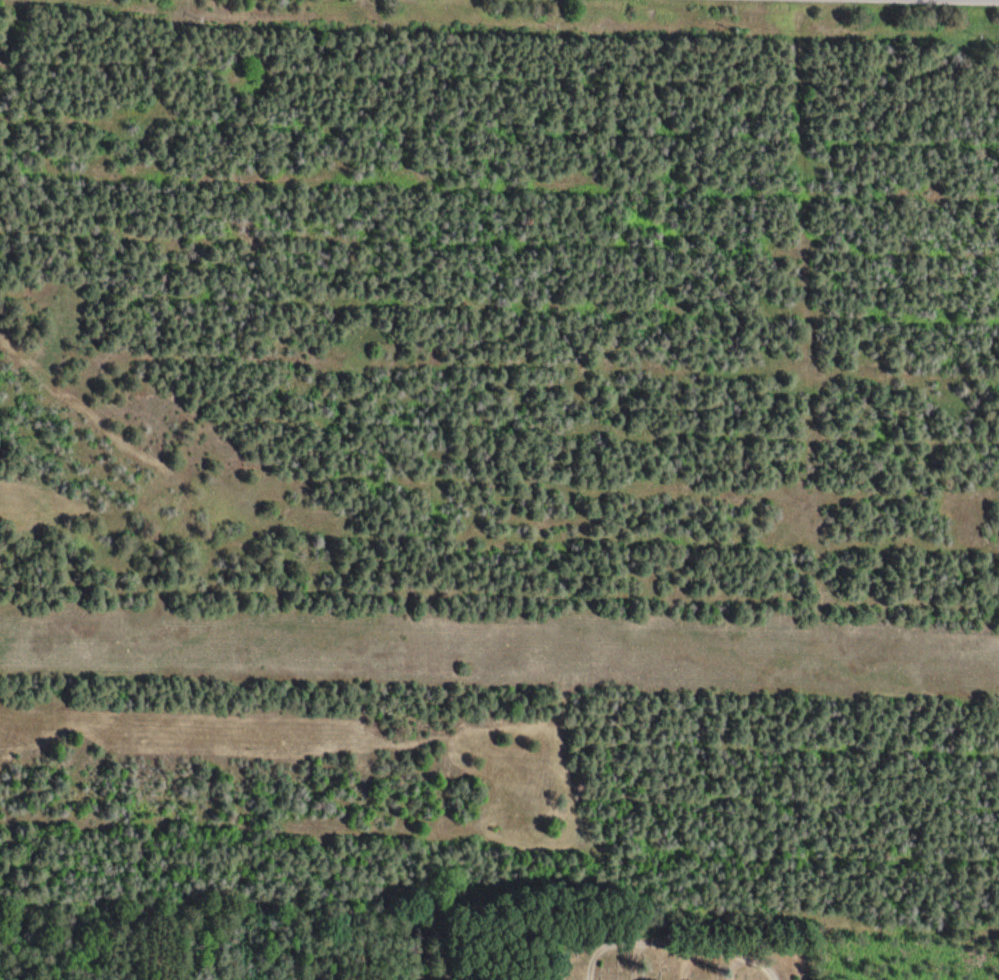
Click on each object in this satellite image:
park: (663, 943)
road: (674, 947)

